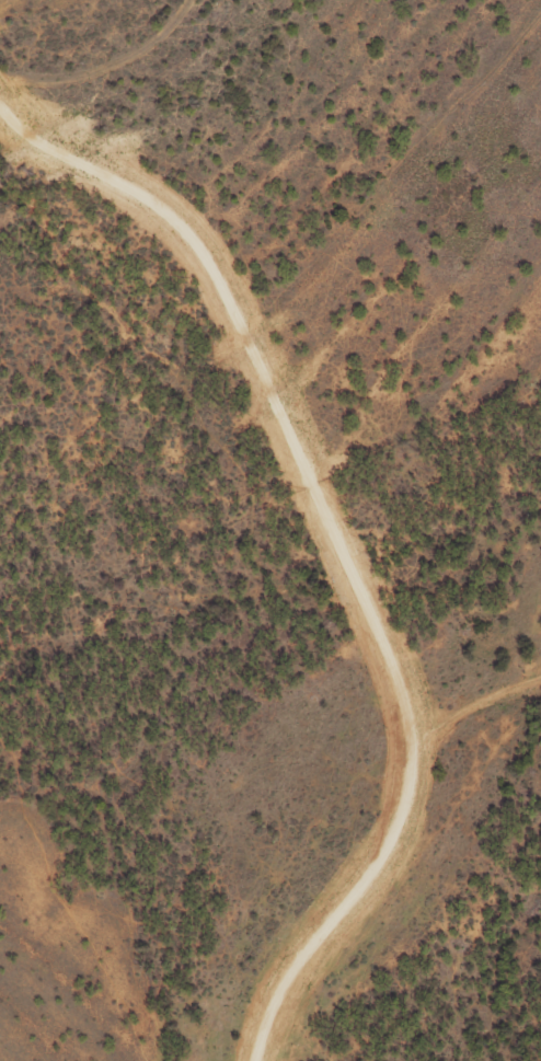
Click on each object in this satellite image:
road: (269, 380)
road: (477, 704)
road: (342, 908)

